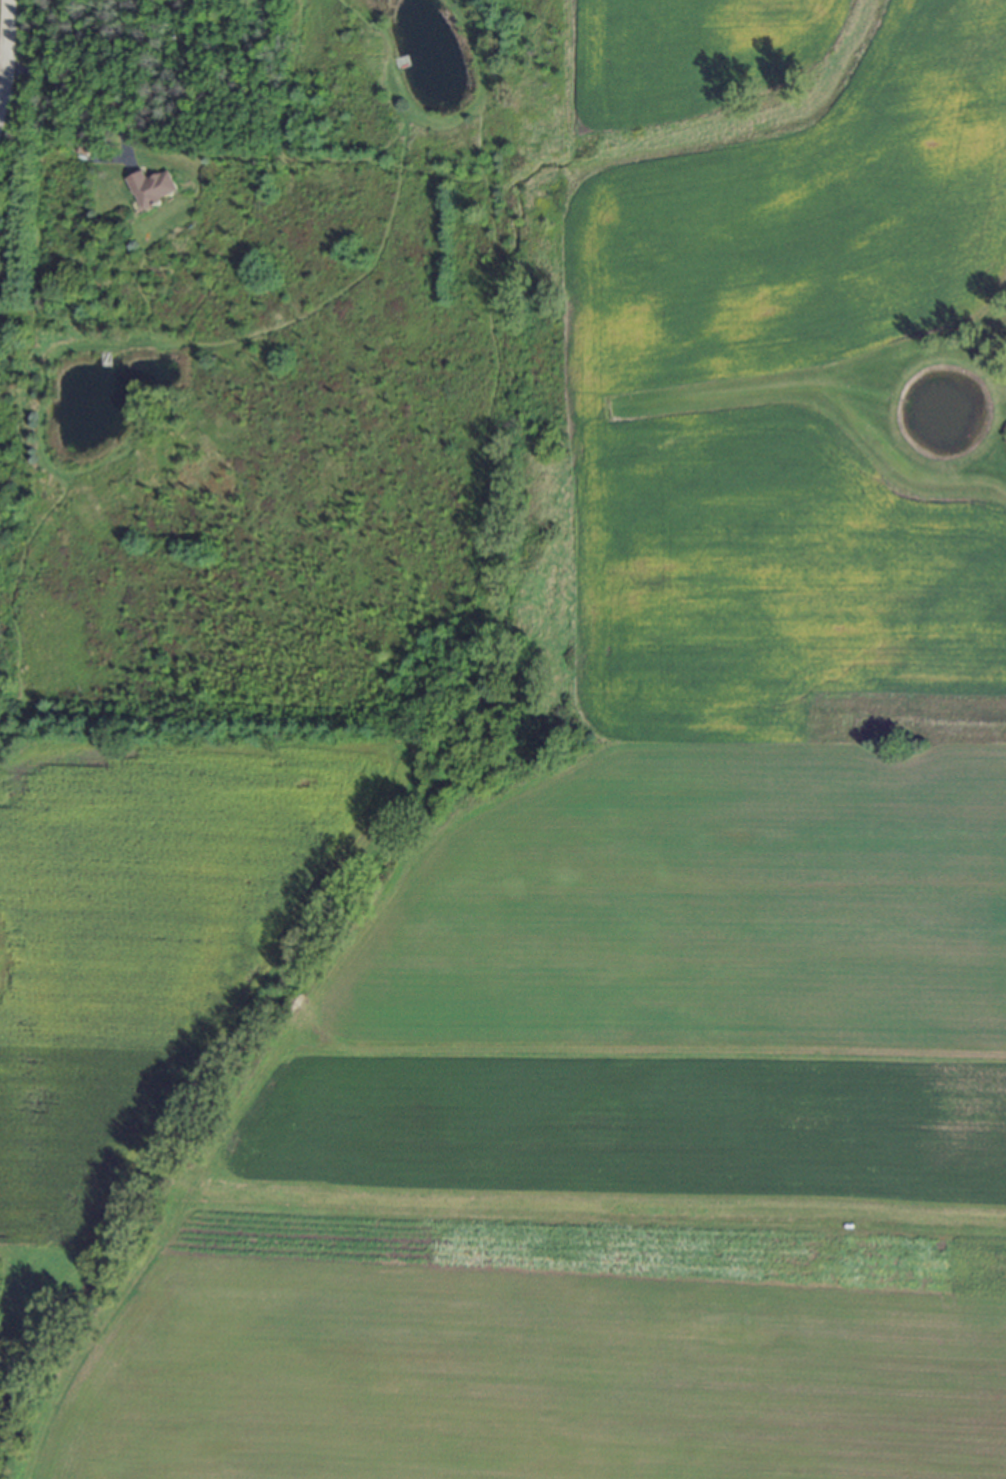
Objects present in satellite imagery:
road: (7, 65)
road: (86, 100)
building: (152, 188)
crop: (582, 899)

